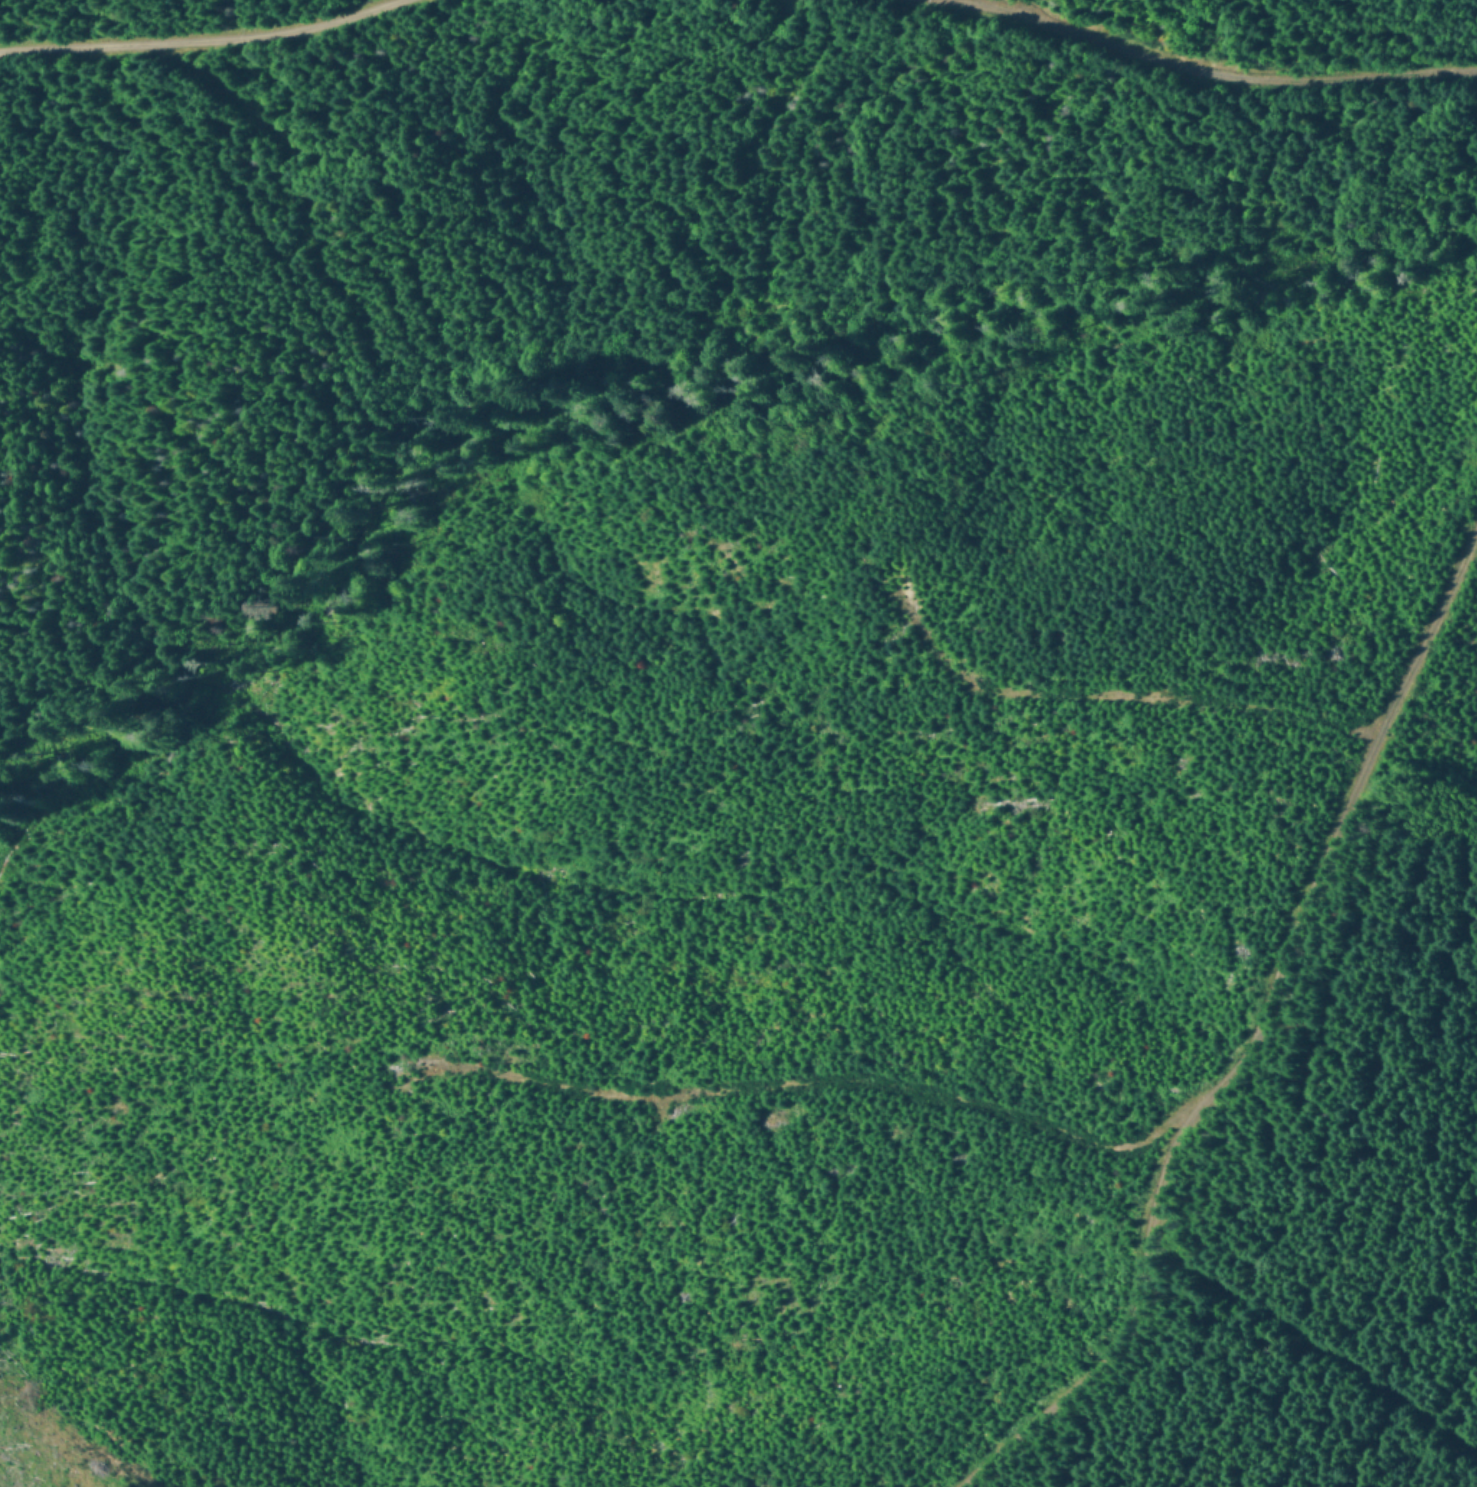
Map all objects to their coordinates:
road: (250, 34)

